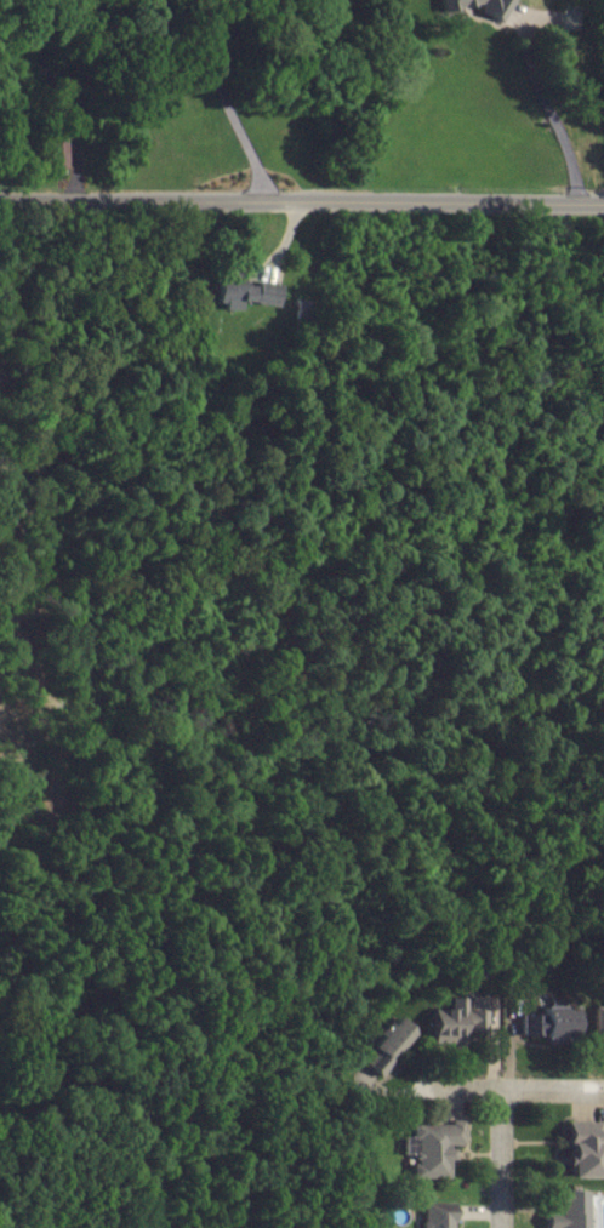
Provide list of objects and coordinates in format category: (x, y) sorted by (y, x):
building: (479, 6)
road: (56, 98)
road: (223, 103)
road: (548, 113)
building: (53, 152)
road: (301, 202)
building: (241, 291)
building: (599, 1021)
building: (457, 1022)
building: (546, 1023)
building: (388, 1045)
road: (517, 1091)
building: (432, 1148)
building: (581, 1150)
road: (502, 1159)
building: (566, 1210)
building: (438, 1215)

